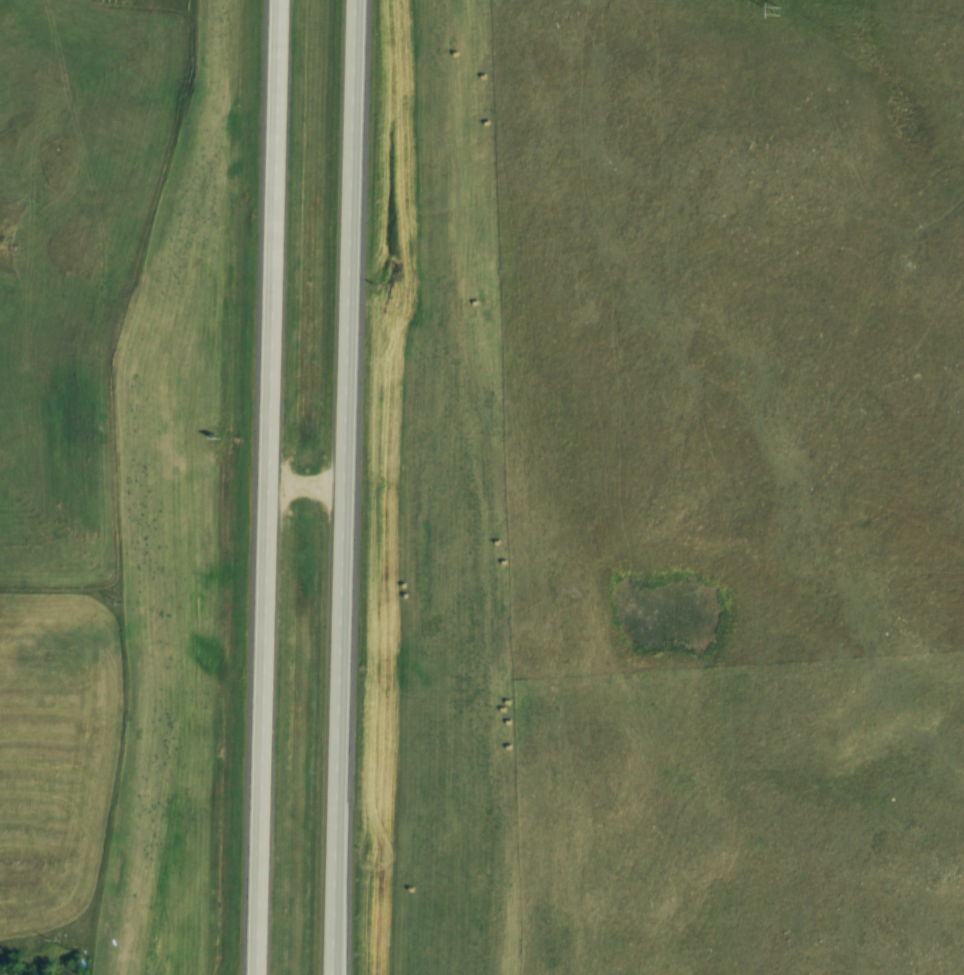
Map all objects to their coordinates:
power tower: (780, 11)
road: (310, 481)
road: (268, 487)
road: (351, 487)

